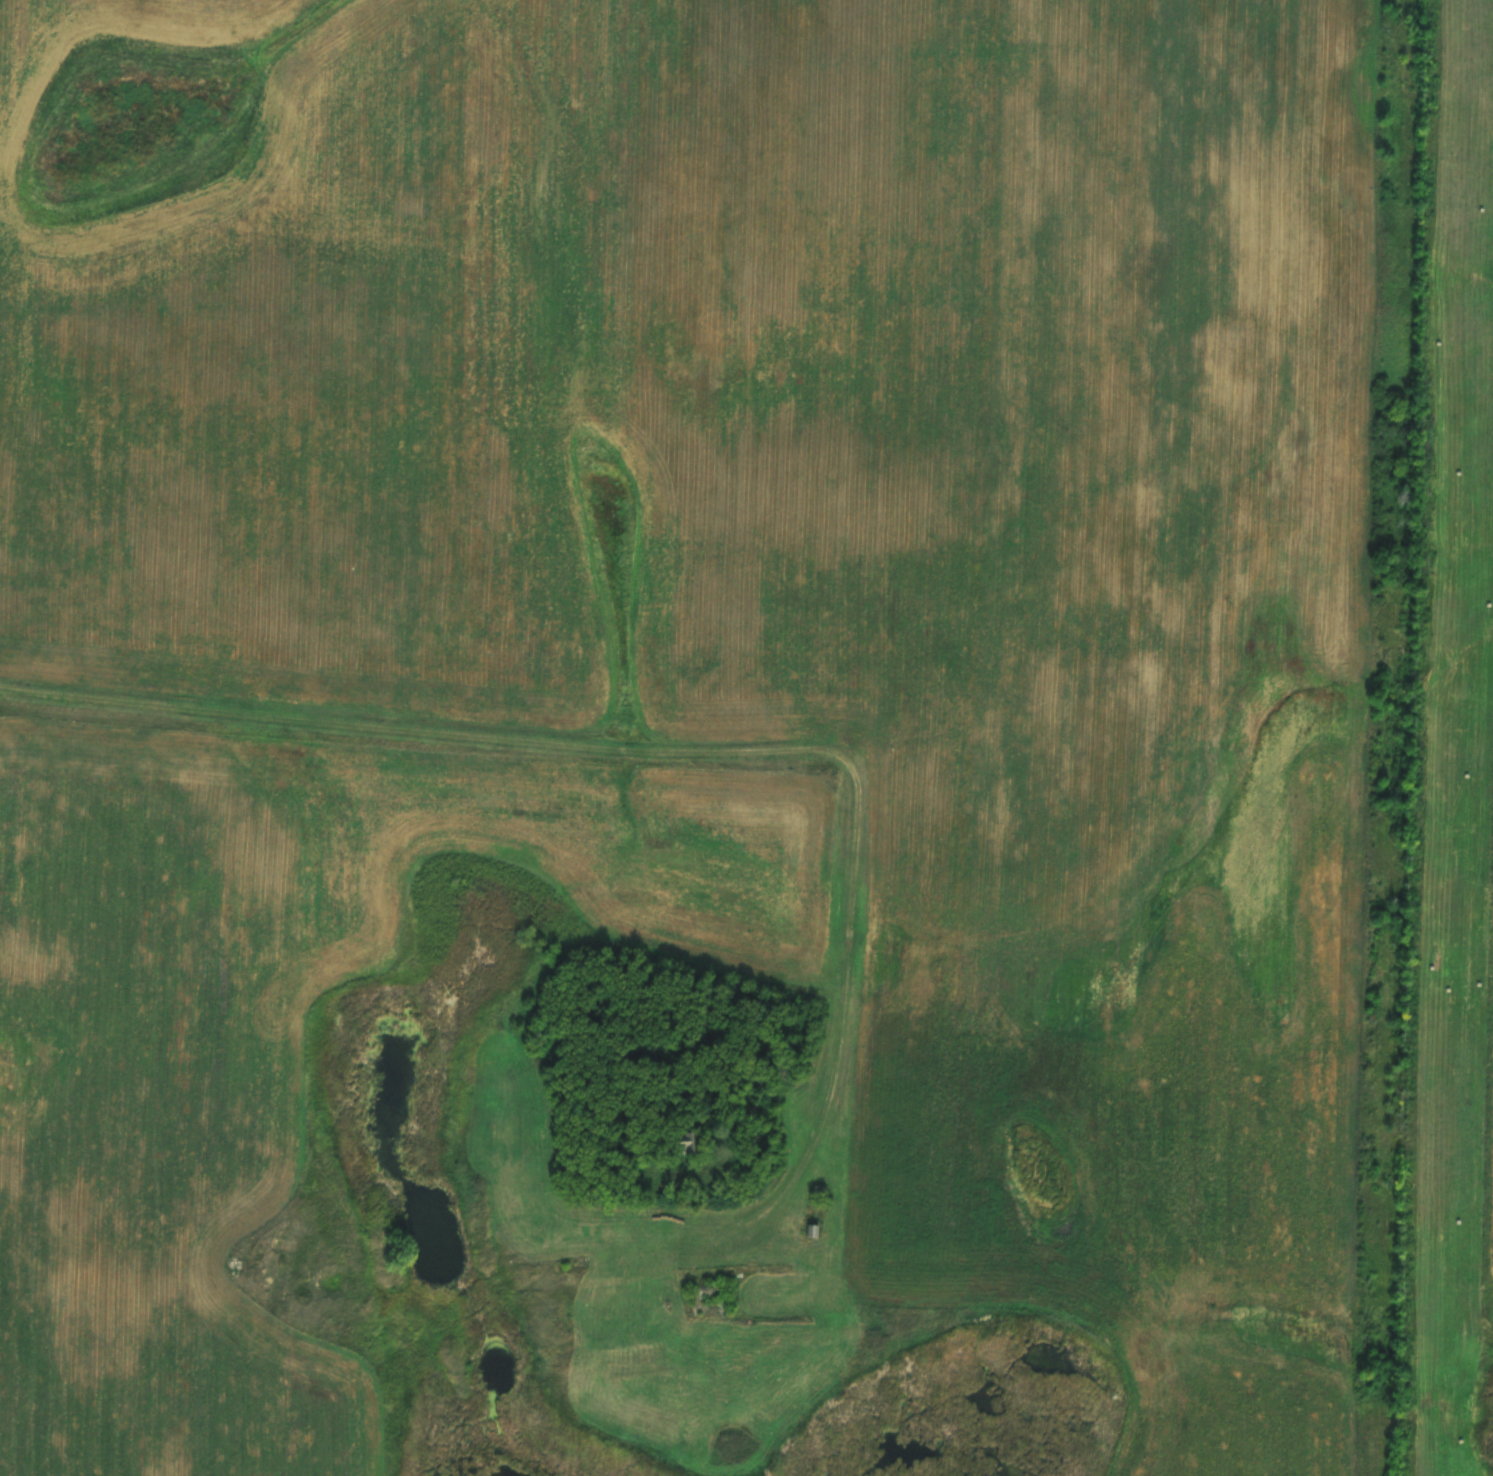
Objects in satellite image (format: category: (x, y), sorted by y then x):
river: (156, 150)
building: (687, 1143)
building: (819, 1193)
building: (801, 1225)

